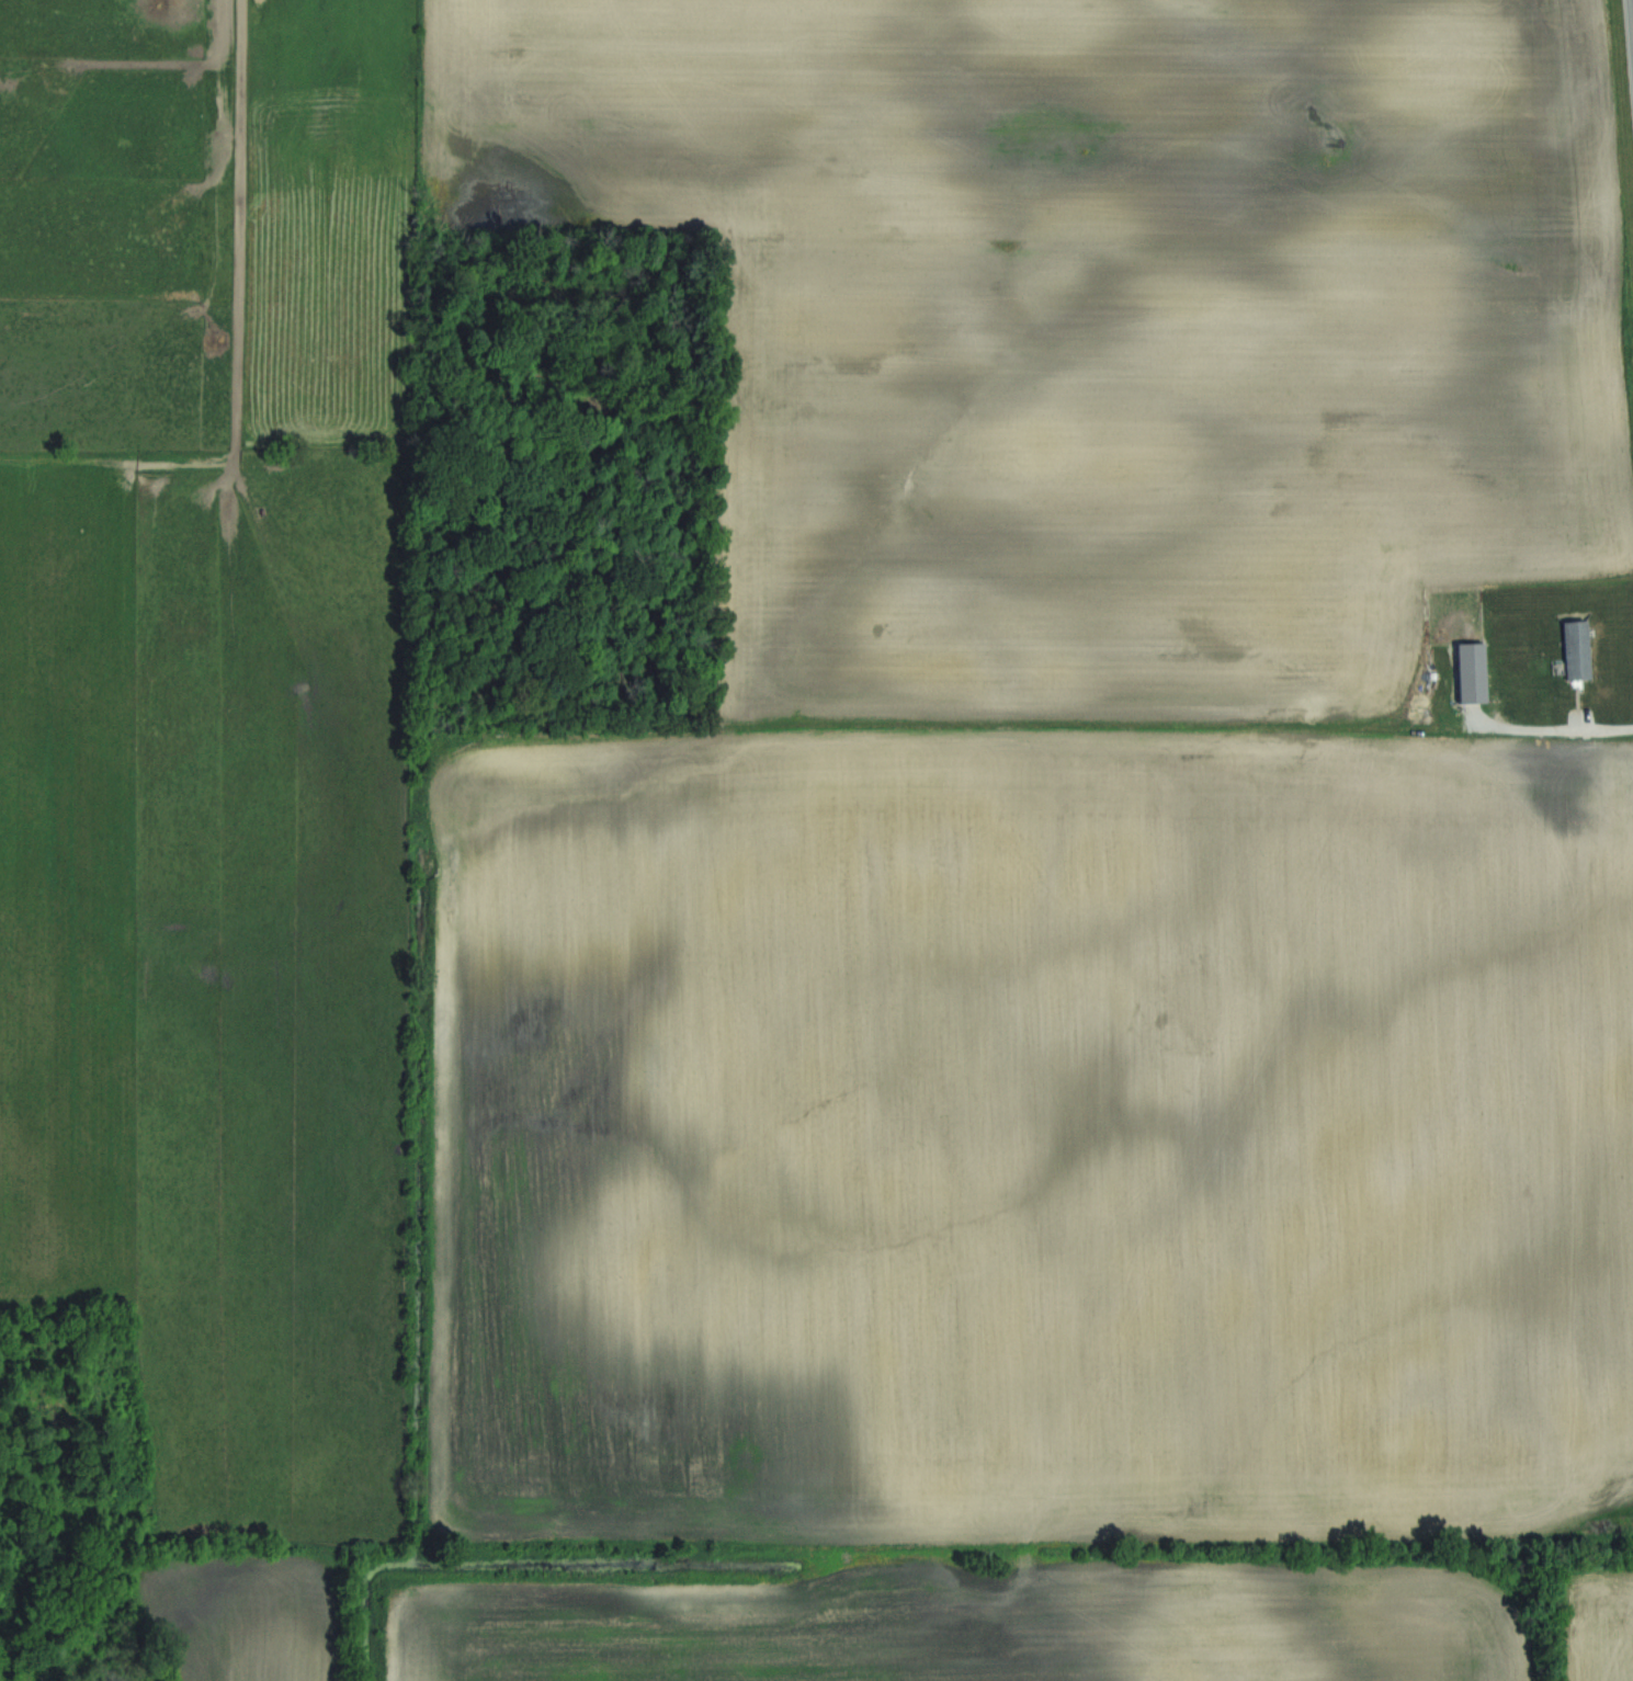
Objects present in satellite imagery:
building: (1576, 648)
building: (1467, 704)
road: (1609, 729)

